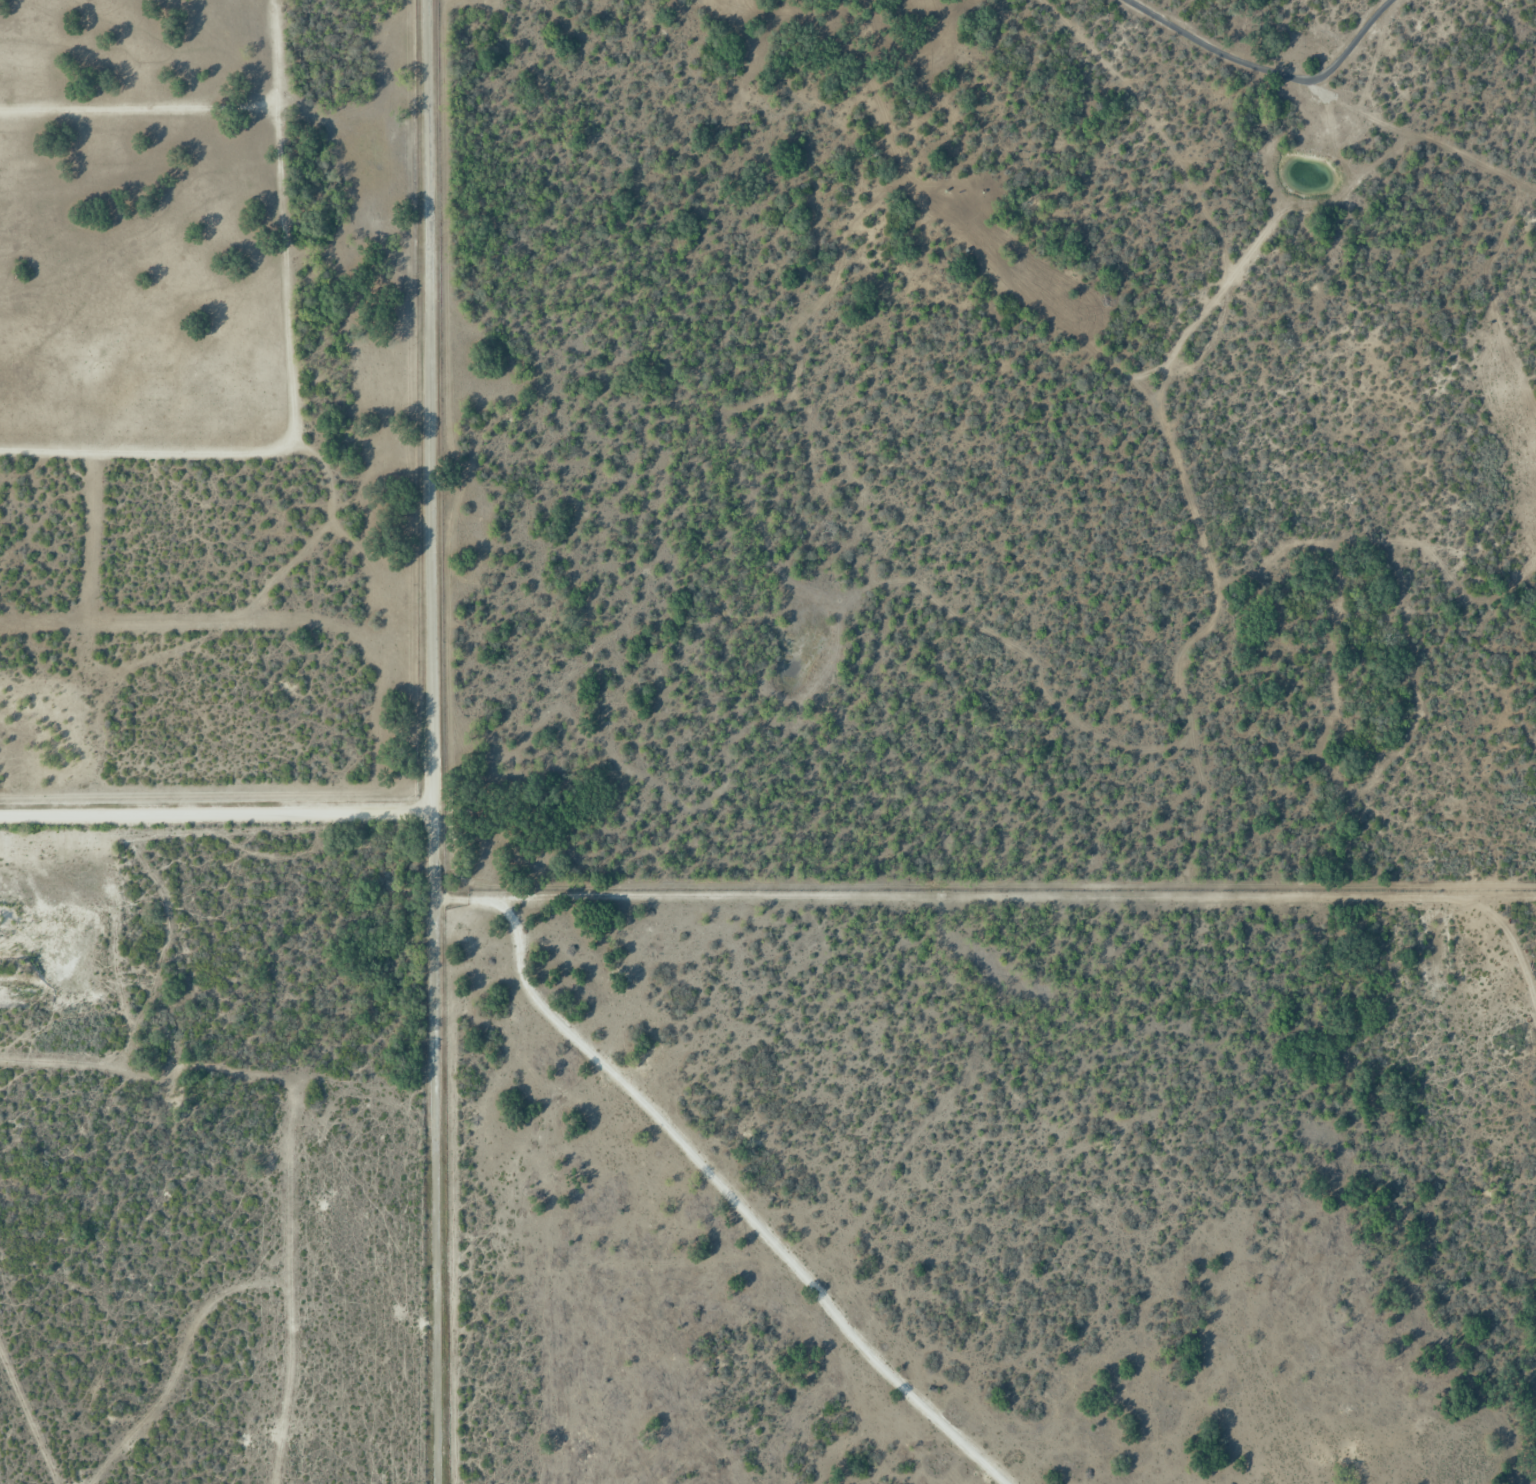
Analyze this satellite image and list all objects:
road: (1267, 70)
road: (434, 742)
road: (217, 814)
road: (950, 896)
road: (1507, 938)
road: (735, 1206)

